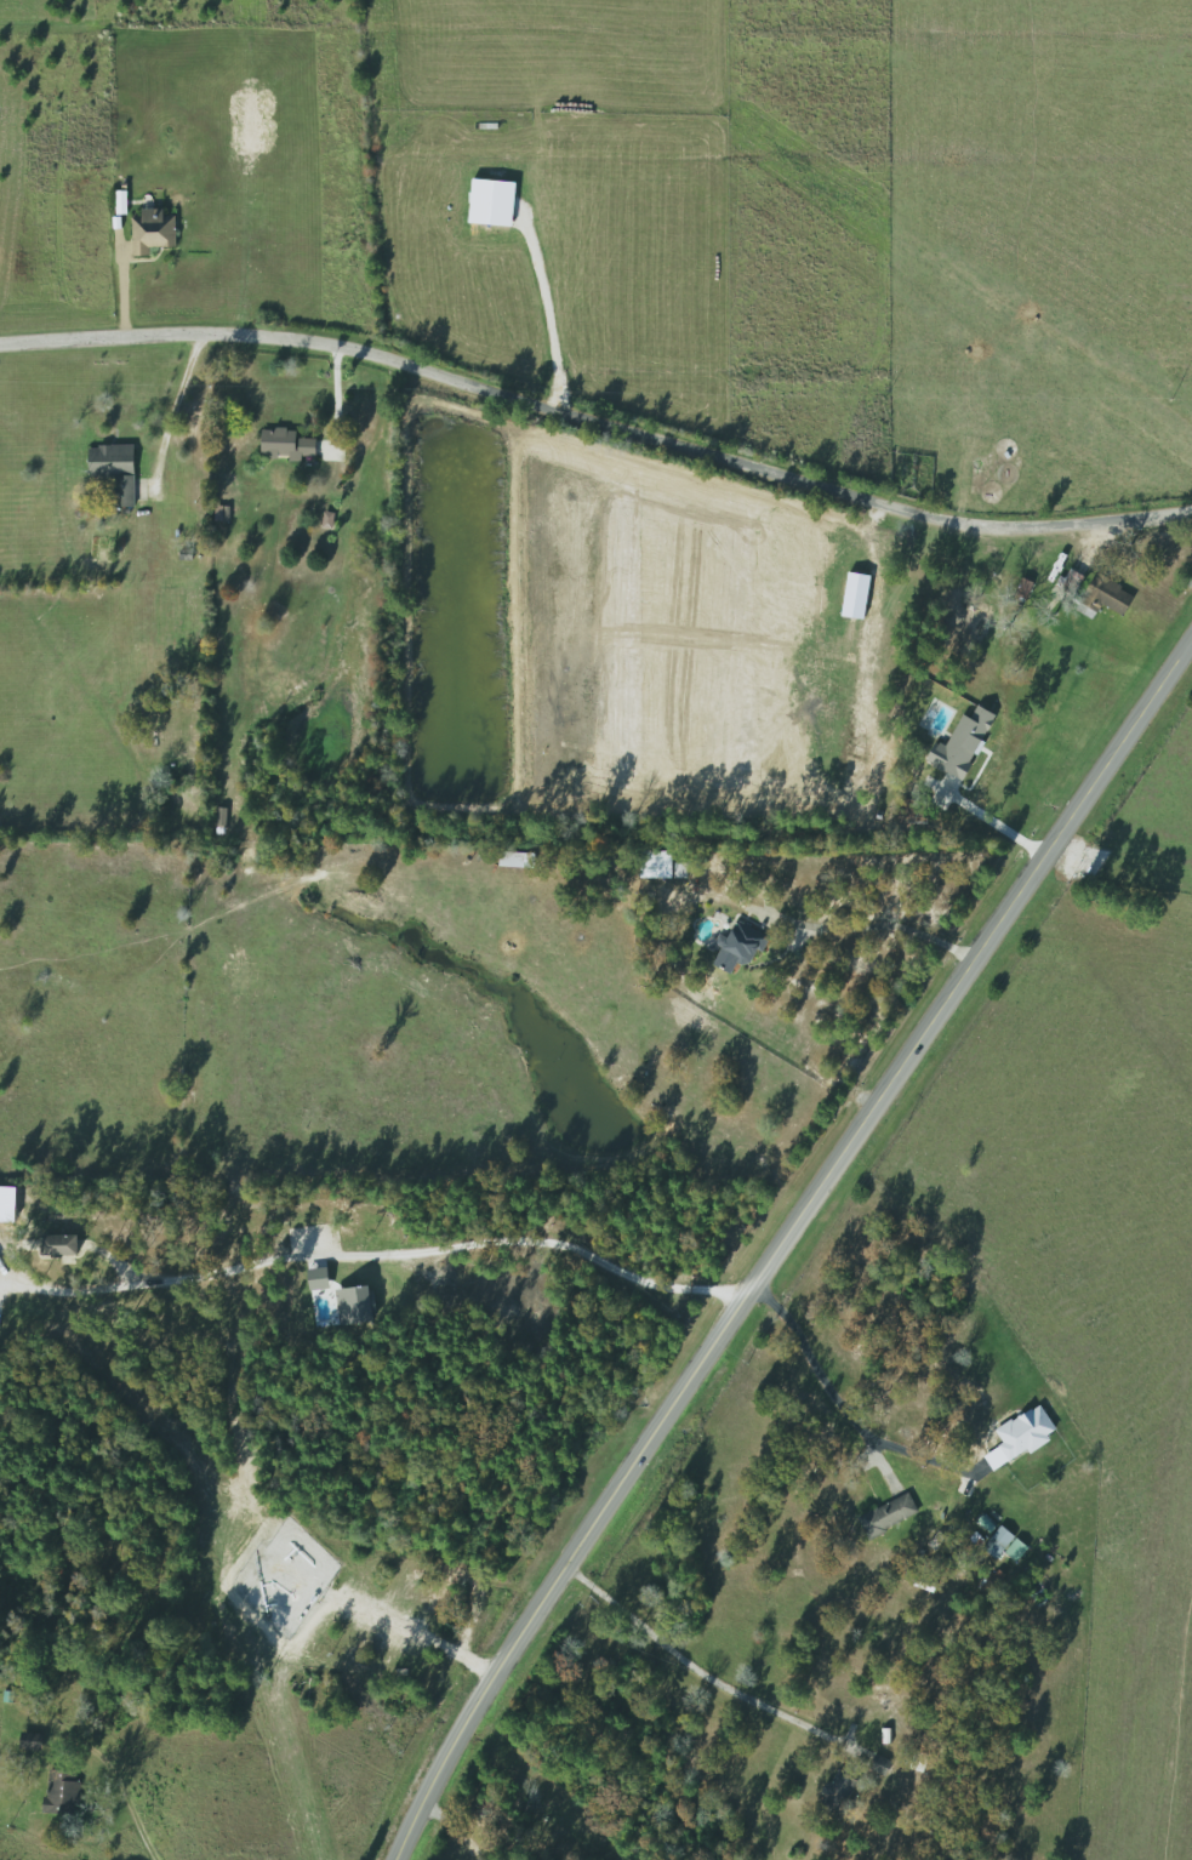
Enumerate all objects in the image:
building: (154, 232)
road: (597, 422)
building: (285, 444)
building: (1005, 449)
building: (115, 472)
building: (1114, 599)
building: (966, 621)
building: (218, 818)
building: (655, 865)
road: (888, 925)
building: (736, 949)
road: (781, 1238)
road: (434, 1242)
building: (886, 1516)
building: (30, 1741)
building: (878, 1764)
building: (61, 1792)
building: (834, 1795)

